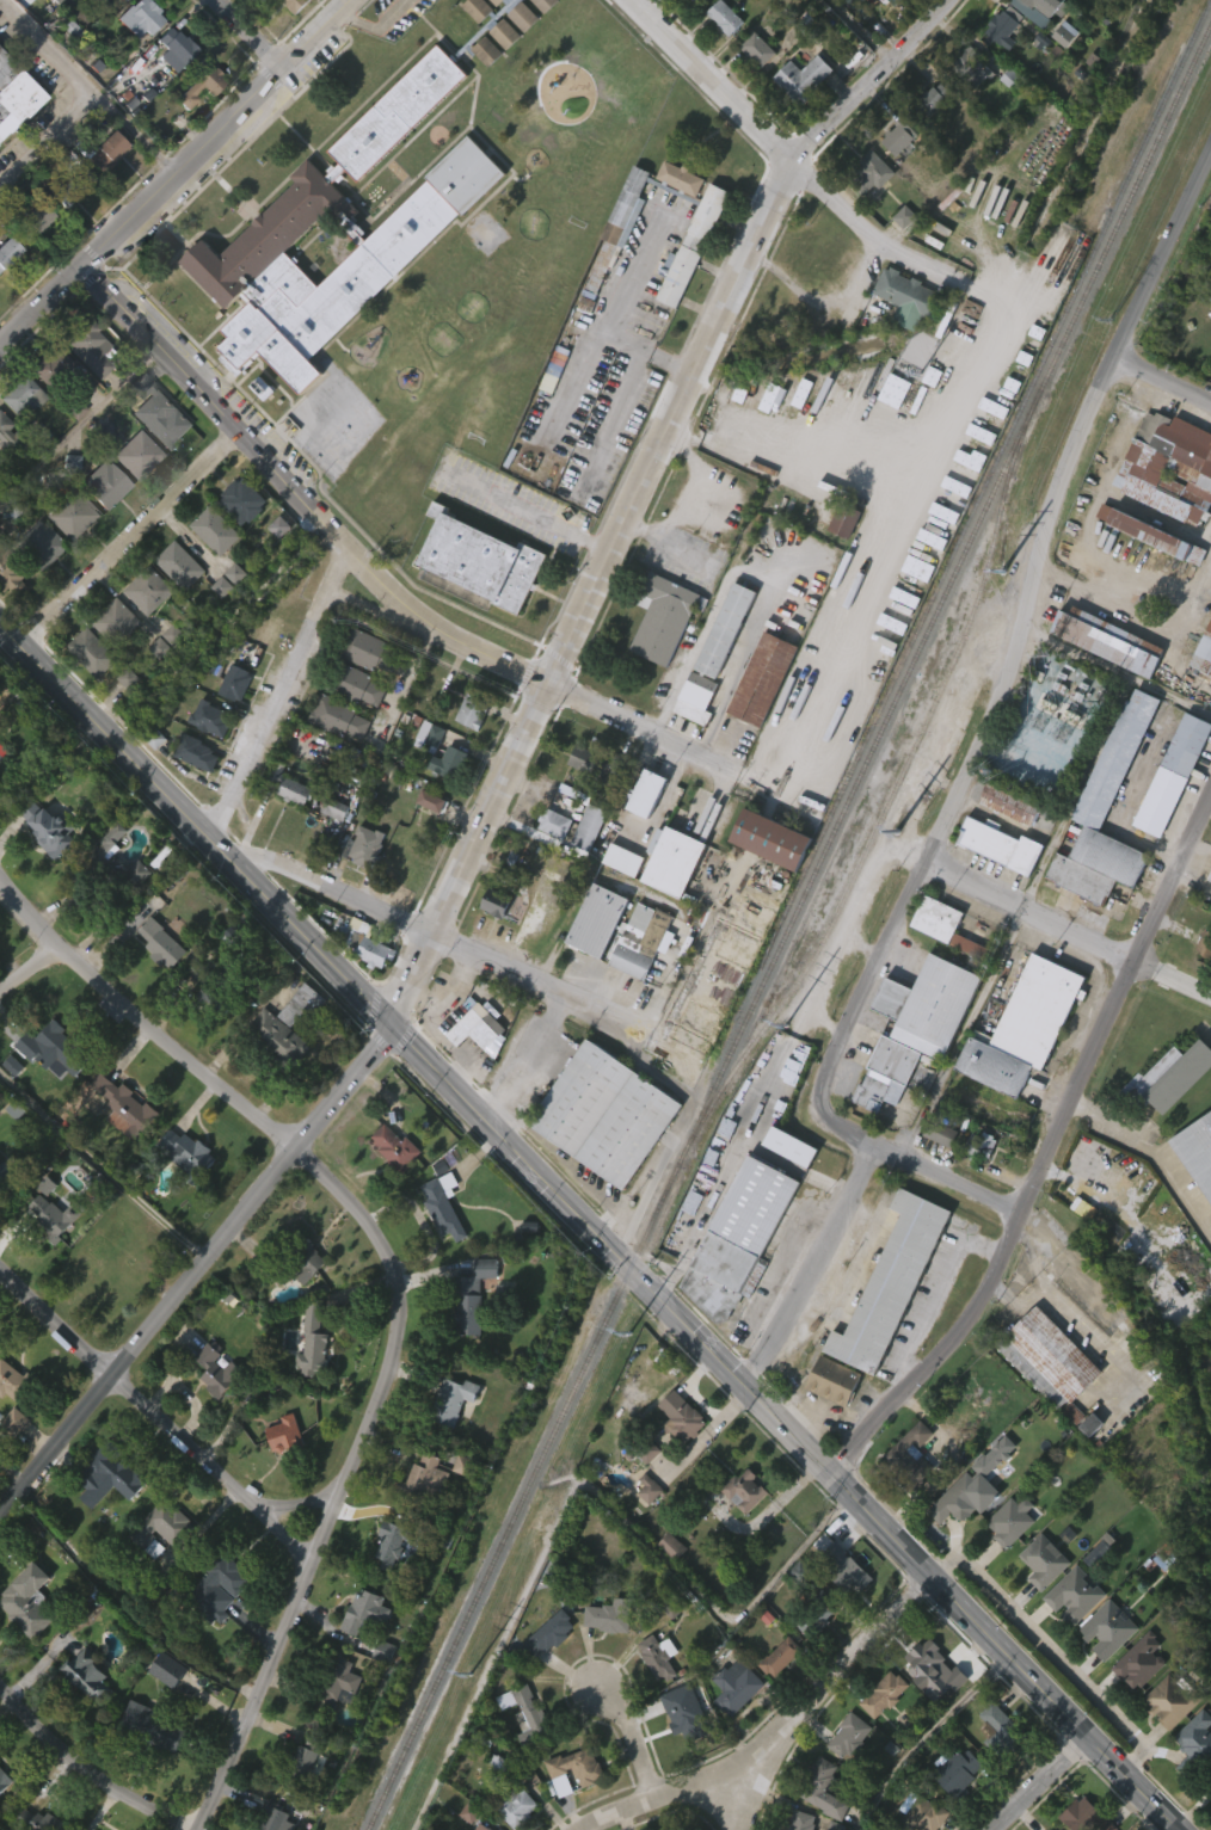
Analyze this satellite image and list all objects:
building: (122, 0)
building: (700, 0)
building: (340, 1)
building: (857, 2)
building: (898, 2)
building: (85, 4)
building: (659, 4)
building: (294, 5)
building: (546, 5)
building: (1049, 6)
building: (258, 7)
building: (139, 17)
building: (725, 18)
road: (379, 24)
building: (689, 24)
building: (107, 26)
building: (769, 26)
building: (886, 27)
building: (1004, 30)
road: (862, 31)
road: (251, 35)
building: (285, 35)
building: (539, 39)
building: (1031, 42)
building: (174, 49)
building: (758, 50)
building: (135, 58)
building: (518, 58)
building: (719, 58)
building: (973, 68)
building: (998, 73)
building: (500, 75)
building: (1059, 75)
building: (803, 80)
building: (199, 82)
building: (170, 90)
building: (481, 92)
building: (752, 92)
building: (16, 93)
road: (79, 93)
building: (934, 100)
building: (971, 112)
building: (798, 119)
building: (1003, 119)
building: (195, 128)
road: (130, 129)
road: (217, 134)
building: (12, 136)
building: (899, 137)
building: (924, 142)
building: (102, 149)
building: (391, 156)
road: (797, 166)
building: (872, 177)
building: (73, 179)
building: (893, 179)
building: (103, 191)
building: (351, 214)
building: (865, 215)
building: (78, 217)
building: (27, 218)
building: (675, 220)
building: (621, 221)
building: (59, 236)
building: (8, 251)
building: (32, 258)
building: (898, 259)
building: (613, 269)
building: (998, 269)
building: (688, 286)
building: (5, 290)
building: (909, 297)
road: (824, 298)
building: (1210, 302)
road: (39, 304)
road: (609, 314)
building: (244, 315)
power tower: (1112, 318)
building: (902, 339)
building: (88, 346)
building: (49, 365)
road: (1163, 377)
building: (82, 389)
building: (20, 393)
building: (44, 406)
road: (614, 408)
building: (159, 412)
building: (257, 429)
building: (889, 432)
building: (10, 439)
building: (70, 452)
building: (136, 454)
road: (1130, 456)
building: (4, 476)
building: (104, 483)
road: (694, 485)
building: (130, 494)
building: (241, 501)
building: (74, 516)
building: (846, 519)
building: (99, 525)
building: (214, 530)
building: (1158, 536)
road: (130, 540)
road: (665, 540)
building: (236, 543)
building: (42, 544)
building: (69, 557)
road: (878, 557)
building: (486, 561)
building: (838, 562)
building: (179, 566)
building: (273, 568)
road: (368, 569)
building: (12, 572)
building: (210, 572)
building: (1150, 578)
road: (752, 579)
road: (1194, 579)
building: (39, 584)
building: (1210, 584)
building: (148, 590)
building: (921, 593)
building: (474, 600)
building: (174, 606)
building: (232, 615)
building: (10, 616)
building: (663, 617)
building: (115, 621)
building: (217, 629)
building: (726, 630)
building: (143, 631)
building: (369, 651)
building: (92, 653)
building: (1204, 653)
building: (657, 659)
building: (111, 663)
road: (1014, 666)
building: (719, 671)
building: (763, 679)
building: (162, 682)
building: (1102, 682)
building: (234, 683)
building: (354, 684)
building: (1203, 691)
building: (87, 694)
road: (282, 696)
building: (696, 698)
building: (473, 710)
building: (210, 717)
building: (338, 717)
building: (122, 720)
building: (756, 720)
building: (227, 723)
building: (429, 735)
building: (690, 740)
building: (2, 748)
building: (467, 752)
building: (196, 753)
building: (336, 759)
building: (450, 763)
building: (598, 764)
road: (505, 775)
building: (1174, 775)
building: (425, 776)
building: (294, 785)
building: (0, 788)
building: (192, 794)
building: (647, 794)
building: (577, 799)
building: (1010, 802)
building: (443, 803)
building: (1107, 812)
building: (1167, 815)
building: (554, 824)
building: (49, 827)
building: (285, 827)
building: (589, 827)
power tower: (899, 833)
building: (641, 834)
building: (775, 837)
building: (426, 842)
building: (107, 844)
building: (1000, 845)
road: (1201, 845)
building: (370, 848)
building: (330, 849)
building: (1100, 854)
building: (623, 861)
building: (674, 863)
building: (563, 868)
building: (584, 868)
building: (44, 870)
building: (1209, 873)
building: (134, 875)
building: (766, 880)
road: (1194, 881)
building: (992, 886)
building: (361, 887)
building: (669, 902)
building: (496, 904)
building: (133, 914)
building: (1207, 916)
building: (547, 919)
building: (603, 919)
railway: (788, 925)
building: (943, 925)
road: (1068, 929)
road: (436, 934)
building: (644, 939)
building: (164, 943)
building: (1205, 943)
building: (490, 944)
building: (375, 950)
building: (539, 960)
road: (29, 968)
building: (653, 974)
building: (346, 980)
building: (156, 985)
building: (219, 985)
building: (1201, 986)
building: (369, 993)
building: (626, 1002)
building: (301, 1005)
building: (928, 1006)
traffic signals: (389, 1022)
building: (1025, 1029)
building: (479, 1031)
road: (964, 1033)
building: (276, 1041)
building: (55, 1047)
building: (923, 1047)
building: (474, 1071)
building: (886, 1076)
building: (1170, 1078)
building: (272, 1079)
building: (39, 1083)
building: (8, 1107)
building: (123, 1108)
building: (1147, 1114)
building: (604, 1115)
building: (880, 1115)
building: (1175, 1117)
building: (942, 1127)
building: (982, 1146)
building: (797, 1147)
building: (122, 1150)
building: (394, 1150)
road: (1154, 1151)
building: (1197, 1153)
road: (1045, 1154)
building: (188, 1156)
building: (726, 1163)
road: (730, 1171)
building: (935, 1173)
building: (10, 1177)
road: (948, 1179)
building: (389, 1188)
building: (972, 1188)
building: (182, 1193)
building: (1194, 1194)
building: (443, 1206)
building: (2, 1209)
building: (42, 1226)
road: (590, 1227)
building: (739, 1237)
building: (438, 1246)
building: (49, 1257)
building: (297, 1258)
road: (809, 1262)
building: (891, 1281)
road: (398, 1287)
road: (939, 1292)
building: (475, 1296)
building: (301, 1306)
power tower: (632, 1335)
building: (467, 1337)
building: (313, 1339)
building: (1047, 1357)
building: (217, 1369)
building: (834, 1380)
building: (14, 1381)
building: (308, 1385)
building: (1043, 1399)
building: (451, 1400)
building: (211, 1409)
road: (160, 1418)
building: (13, 1422)
building: (684, 1422)
building: (826, 1423)
building: (284, 1434)
building: (448, 1441)
building: (644, 1449)
building: (911, 1452)
building: (10, 1462)
building: (680, 1464)
building: (1084, 1466)
building: (112, 1472)
building: (279, 1474)
building: (420, 1478)
building: (744, 1490)
building: (643, 1491)
building: (906, 1496)
building: (958, 1499)
road: (303, 1501)
building: (457, 1505)
building: (107, 1516)
building: (420, 1520)
building: (1010, 1522)
building: (161, 1527)
building: (739, 1530)
building: (951, 1540)
building: (674, 1545)
building: (1004, 1561)
building: (1045, 1561)
building: (158, 1566)
building: (846, 1567)
building: (223, 1576)
building: (386, 1583)
building: (666, 1586)
building: (150, 1589)
building: (1075, 1594)
building: (26, 1601)
building: (1038, 1602)
building: (838, 1608)
building: (364, 1613)
building: (610, 1615)
building: (817, 1615)
building: (214, 1628)
building: (1109, 1629)
building: (549, 1635)
building: (1068, 1637)
building: (23, 1641)
road: (1050, 1649)
building: (359, 1651)
building: (781, 1656)
building: (659, 1657)
building: (809, 1658)
building: (1141, 1660)
building: (929, 1665)
building: (167, 1669)
building: (1102, 1670)
building: (85, 1674)
power tower: (472, 1676)
building: (543, 1677)
building: (337, 1684)
building: (737, 1684)
building: (885, 1694)
building: (653, 1696)
building: (775, 1697)
building: (1173, 1701)
building: (1133, 1702)
building: (162, 1709)
building: (928, 1711)
building: (524, 1712)
building: (82, 1714)
building: (689, 1715)
building: (332, 1721)
building: (731, 1726)
building: (153, 1729)
building: (1002, 1729)
road: (783, 1733)
building: (878, 1735)
road: (926, 1735)
road: (632, 1736)
building: (850, 1736)
building: (500, 1740)
building: (1164, 1742)
building: (1195, 1743)
building: (678, 1750)
building: (523, 1754)
building: (305, 1760)
building: (150, 1769)
building: (994, 1769)
road: (86, 1770)
building: (955, 1770)
building: (572, 1772)
building: (843, 1776)
building: (5, 1780)
road: (755, 1782)
road: (1043, 1782)
building: (1190, 1782)
building: (824, 1787)
building: (516, 1807)
building: (295, 1809)
building: (570, 1810)
building: (953, 1810)
building: (816, 1814)
building: (924, 1814)
building: (1086, 1817)
building: (276, 1818)
road: (1151, 1819)
building: (39, 1820)
building: (801, 1820)
building: (1, 1823)
building: (482, 1826)

